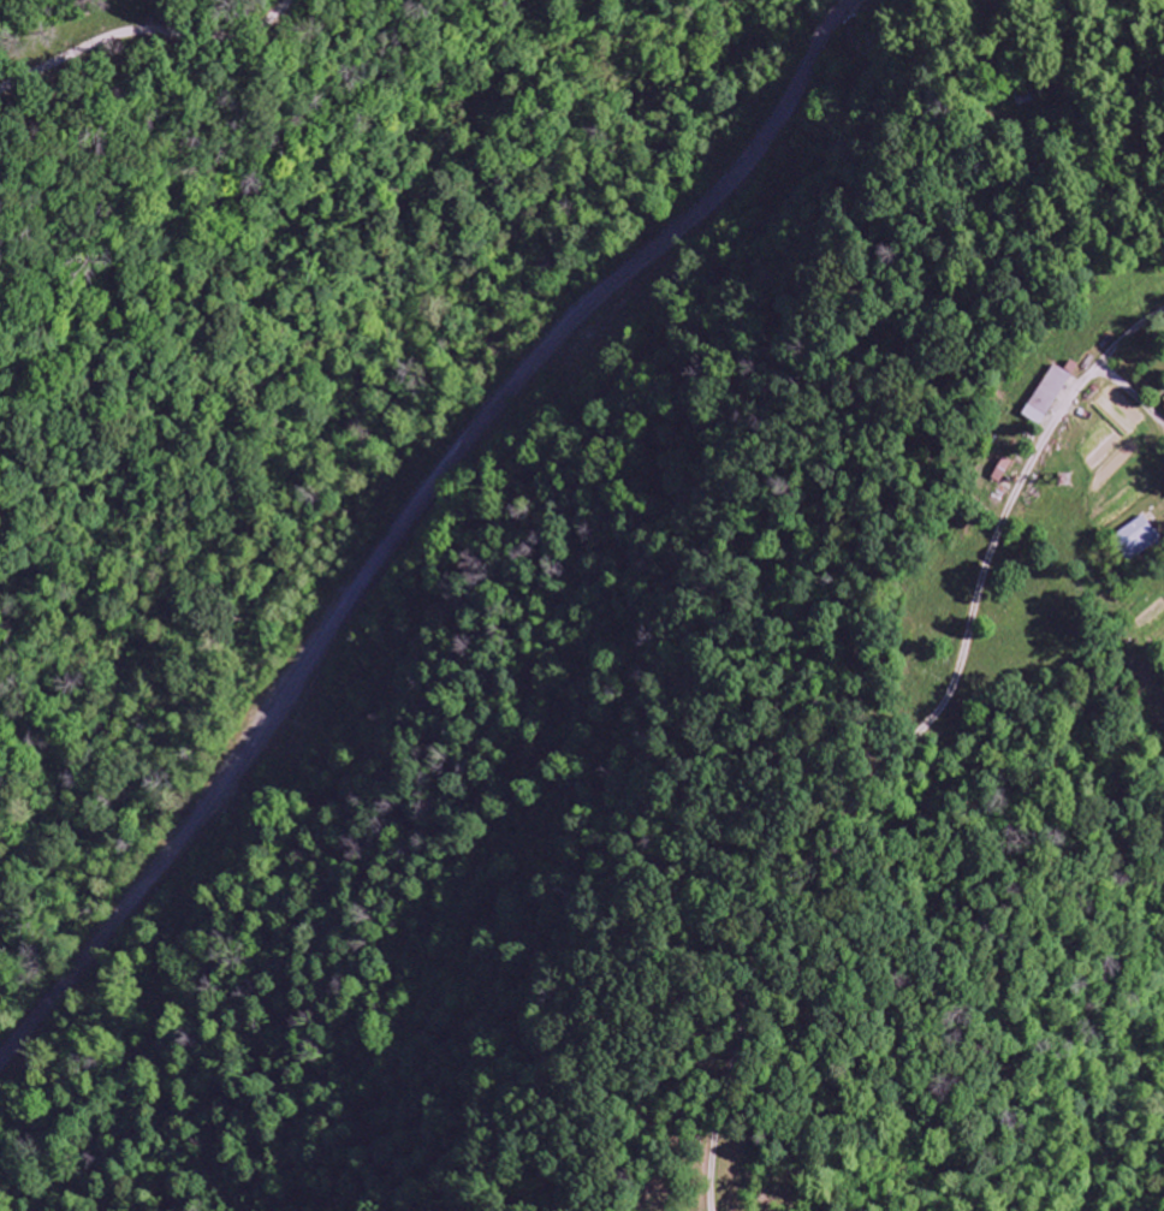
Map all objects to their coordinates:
road: (142, 44)
building: (1047, 396)
building: (1163, 403)
building: (1003, 470)
building: (1139, 538)
road: (451, 592)

